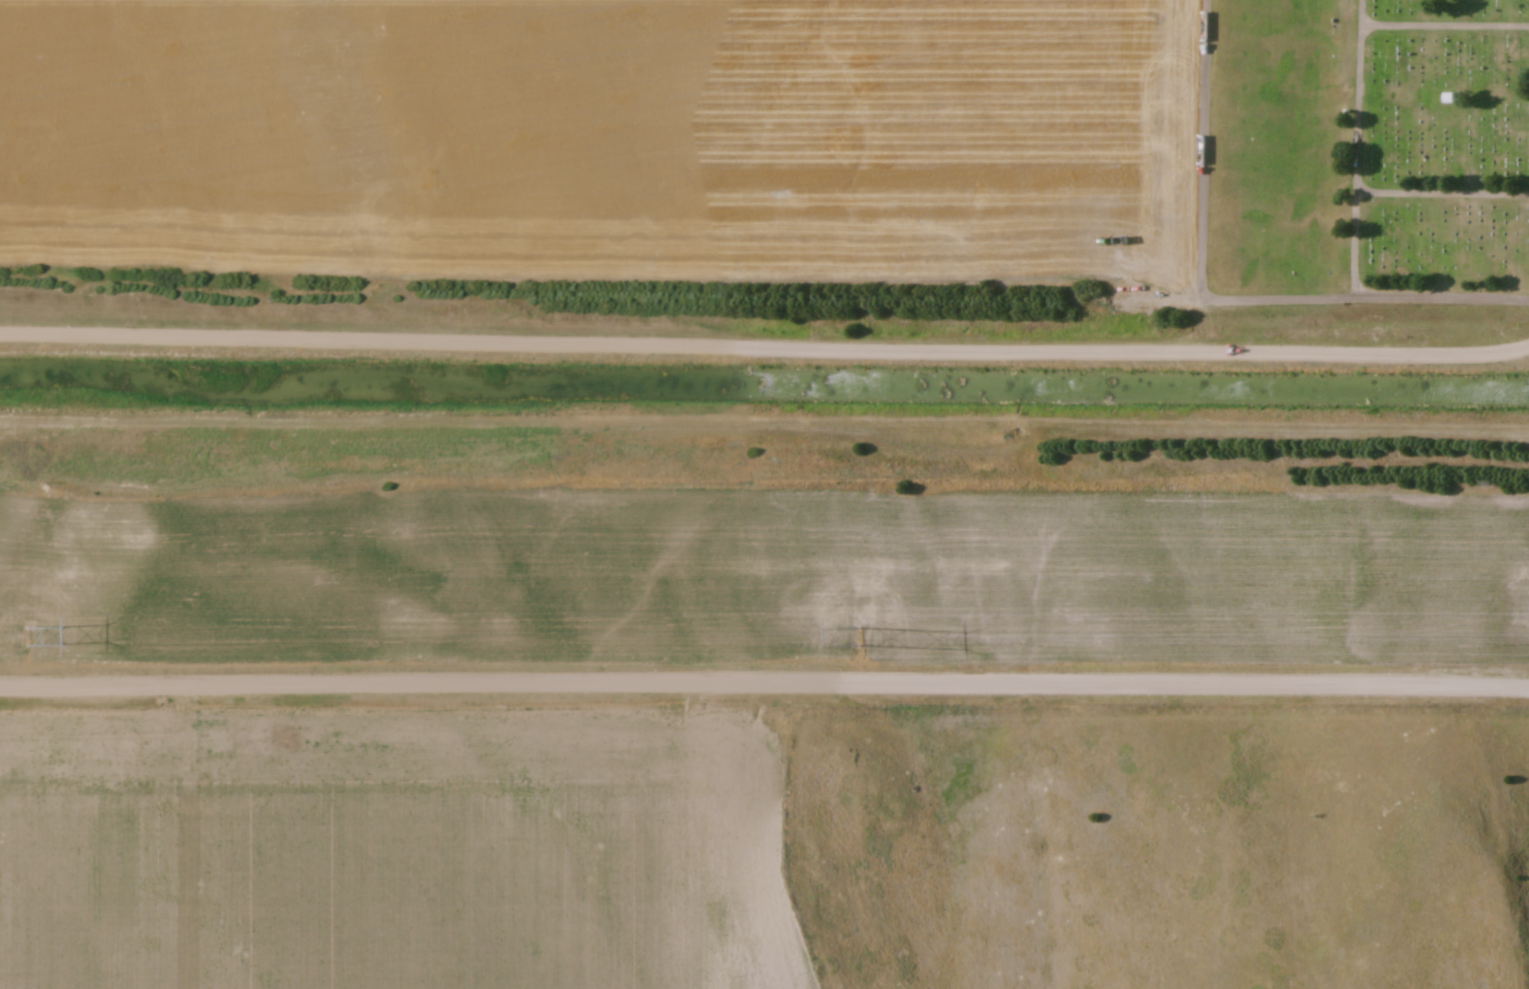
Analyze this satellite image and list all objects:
park: (1442, 148)
road: (765, 344)
power tower: (858, 637)
power tower: (27, 638)
road: (764, 683)

